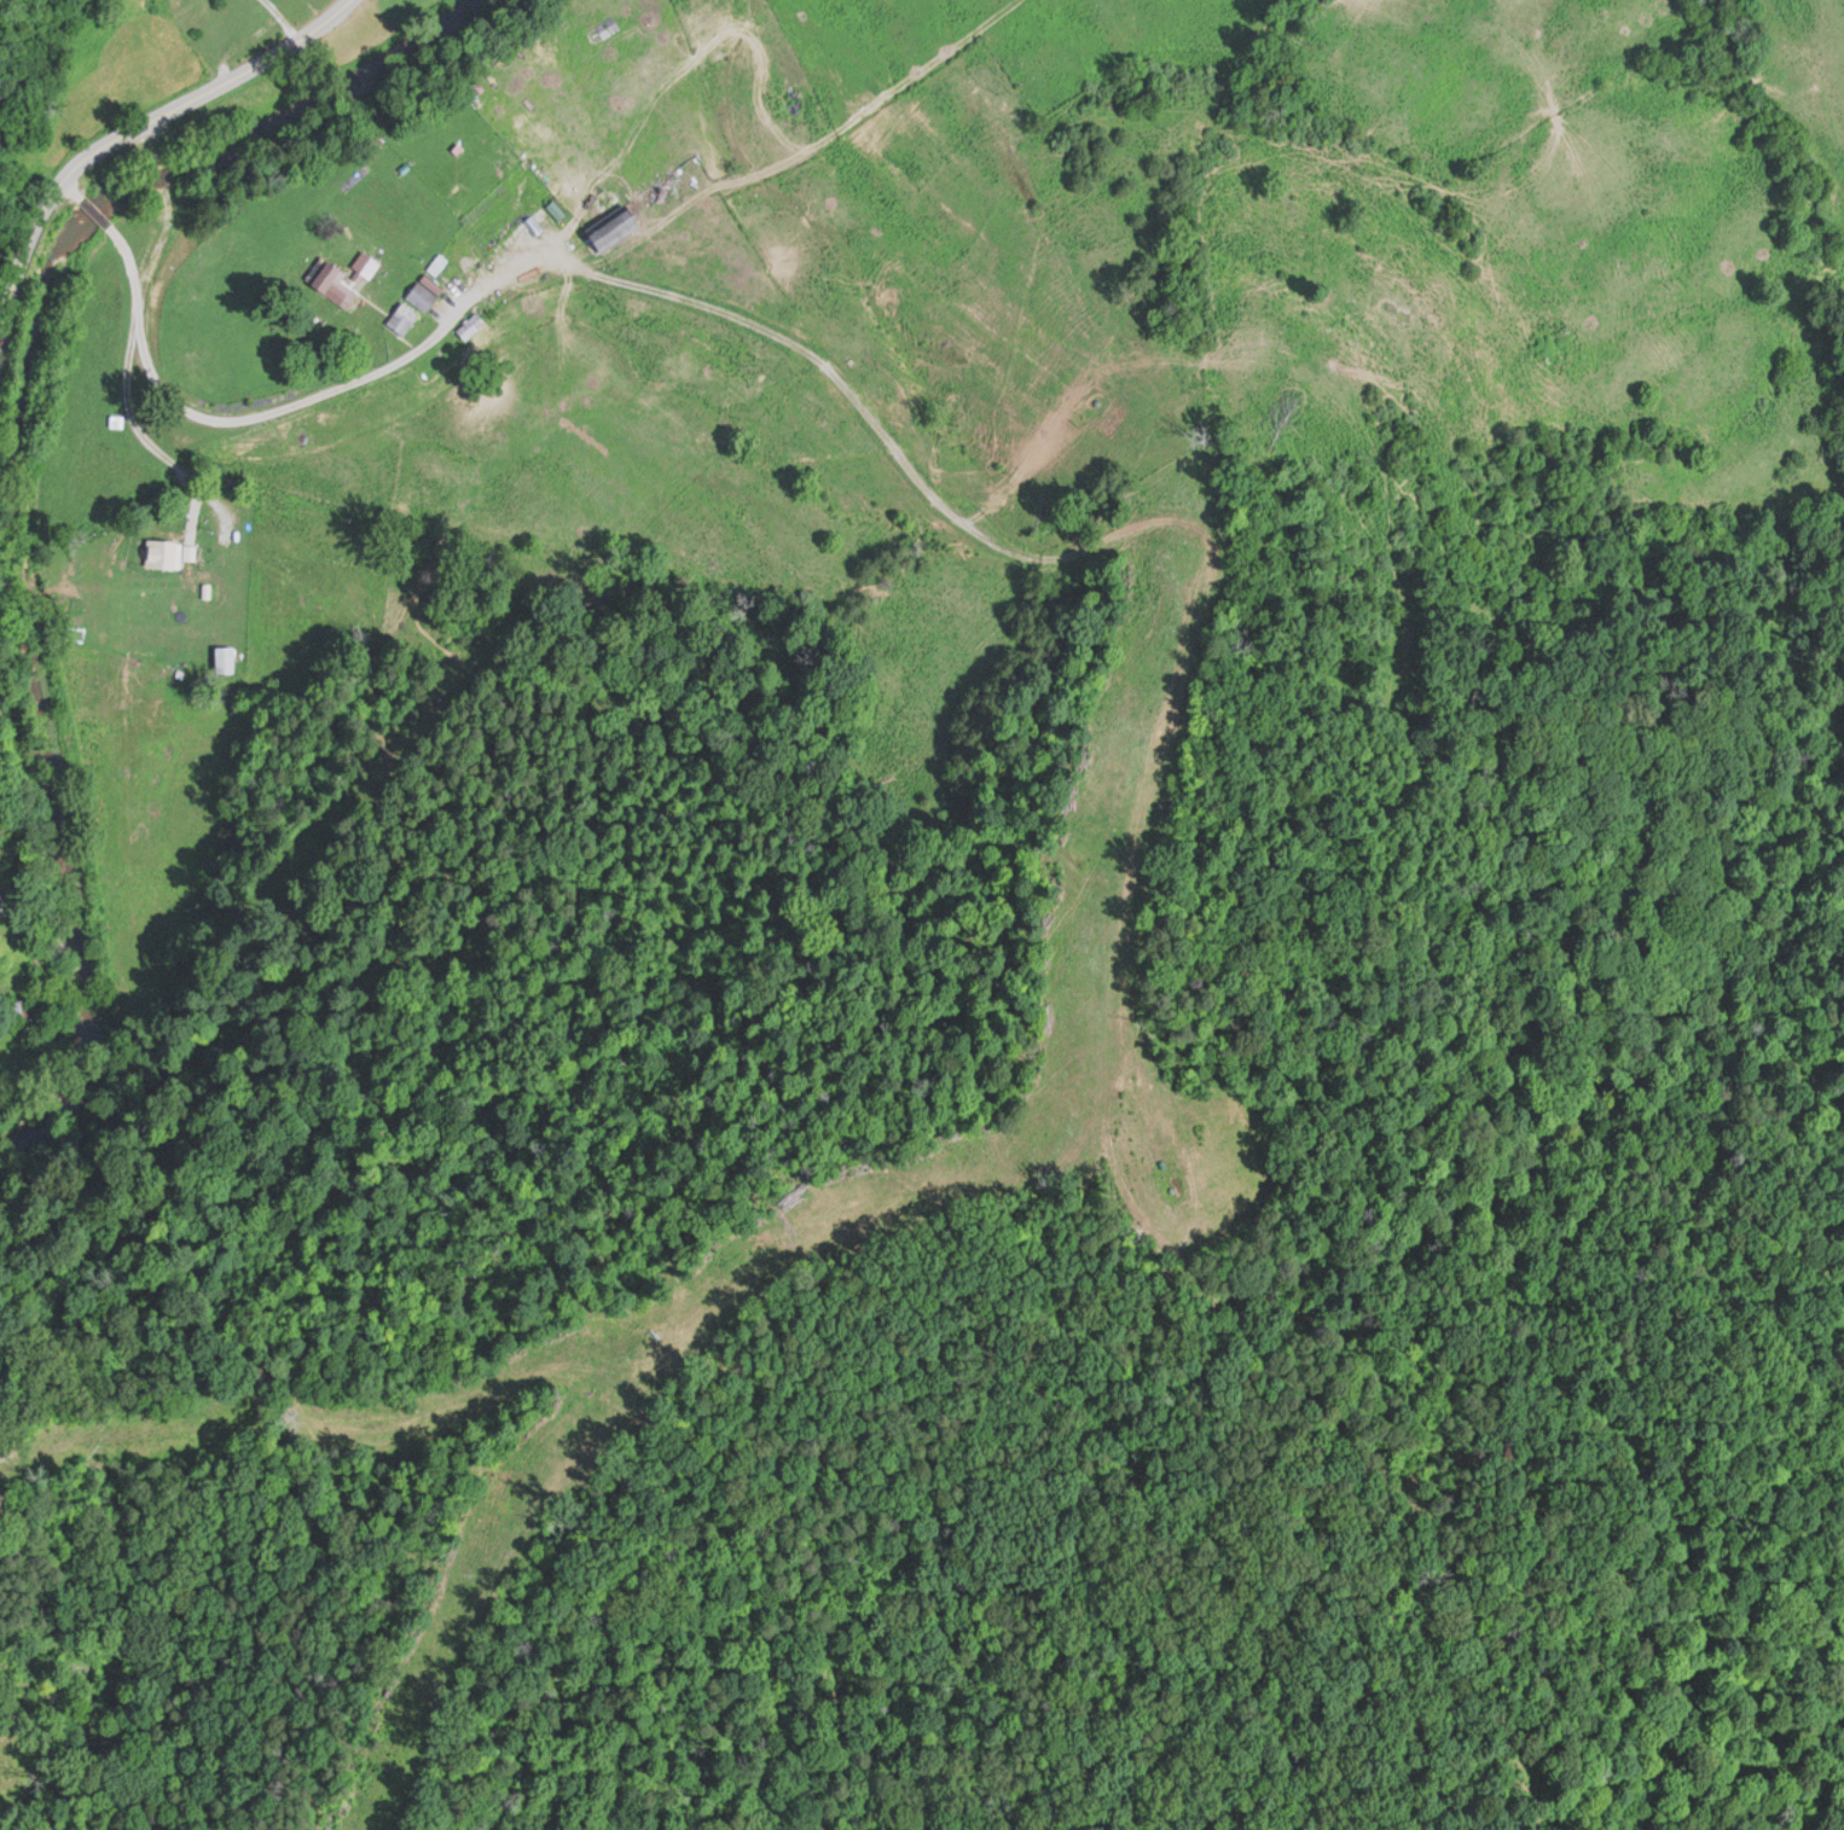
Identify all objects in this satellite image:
road: (122, 123)
road: (71, 186)
road: (94, 208)
building: (631, 210)
building: (331, 283)
building: (418, 294)
building: (400, 315)
building: (468, 324)
road: (132, 333)
road: (306, 395)
building: (161, 552)
building: (221, 656)
building: (19, 1005)

